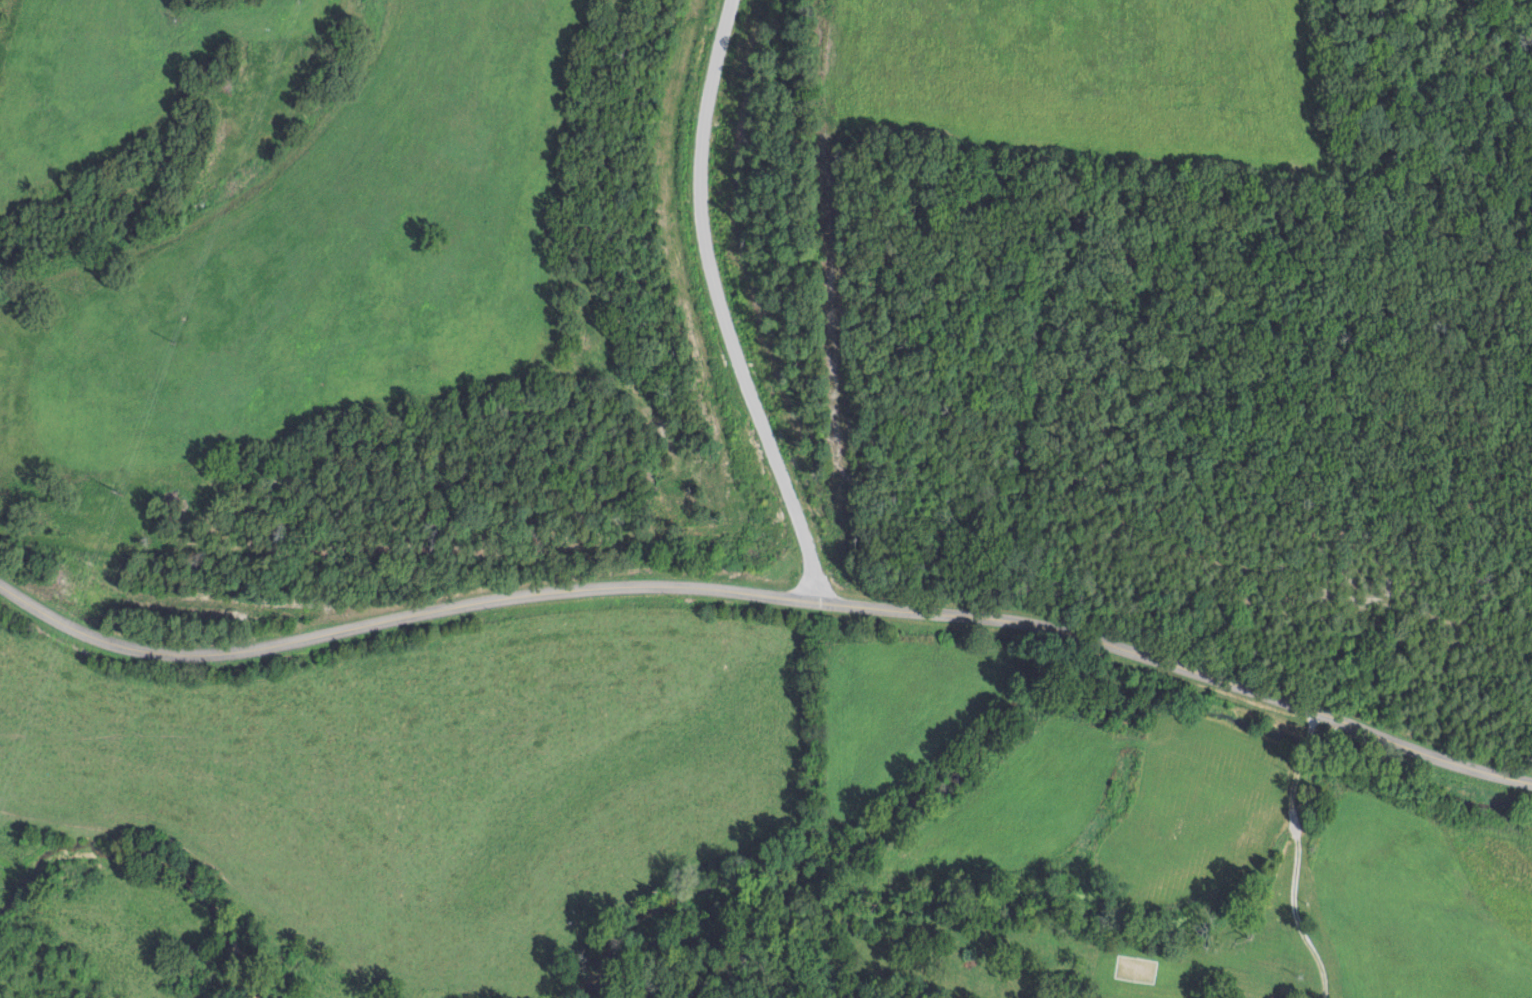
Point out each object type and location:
road: (714, 292)
road: (767, 589)
road: (1297, 855)

